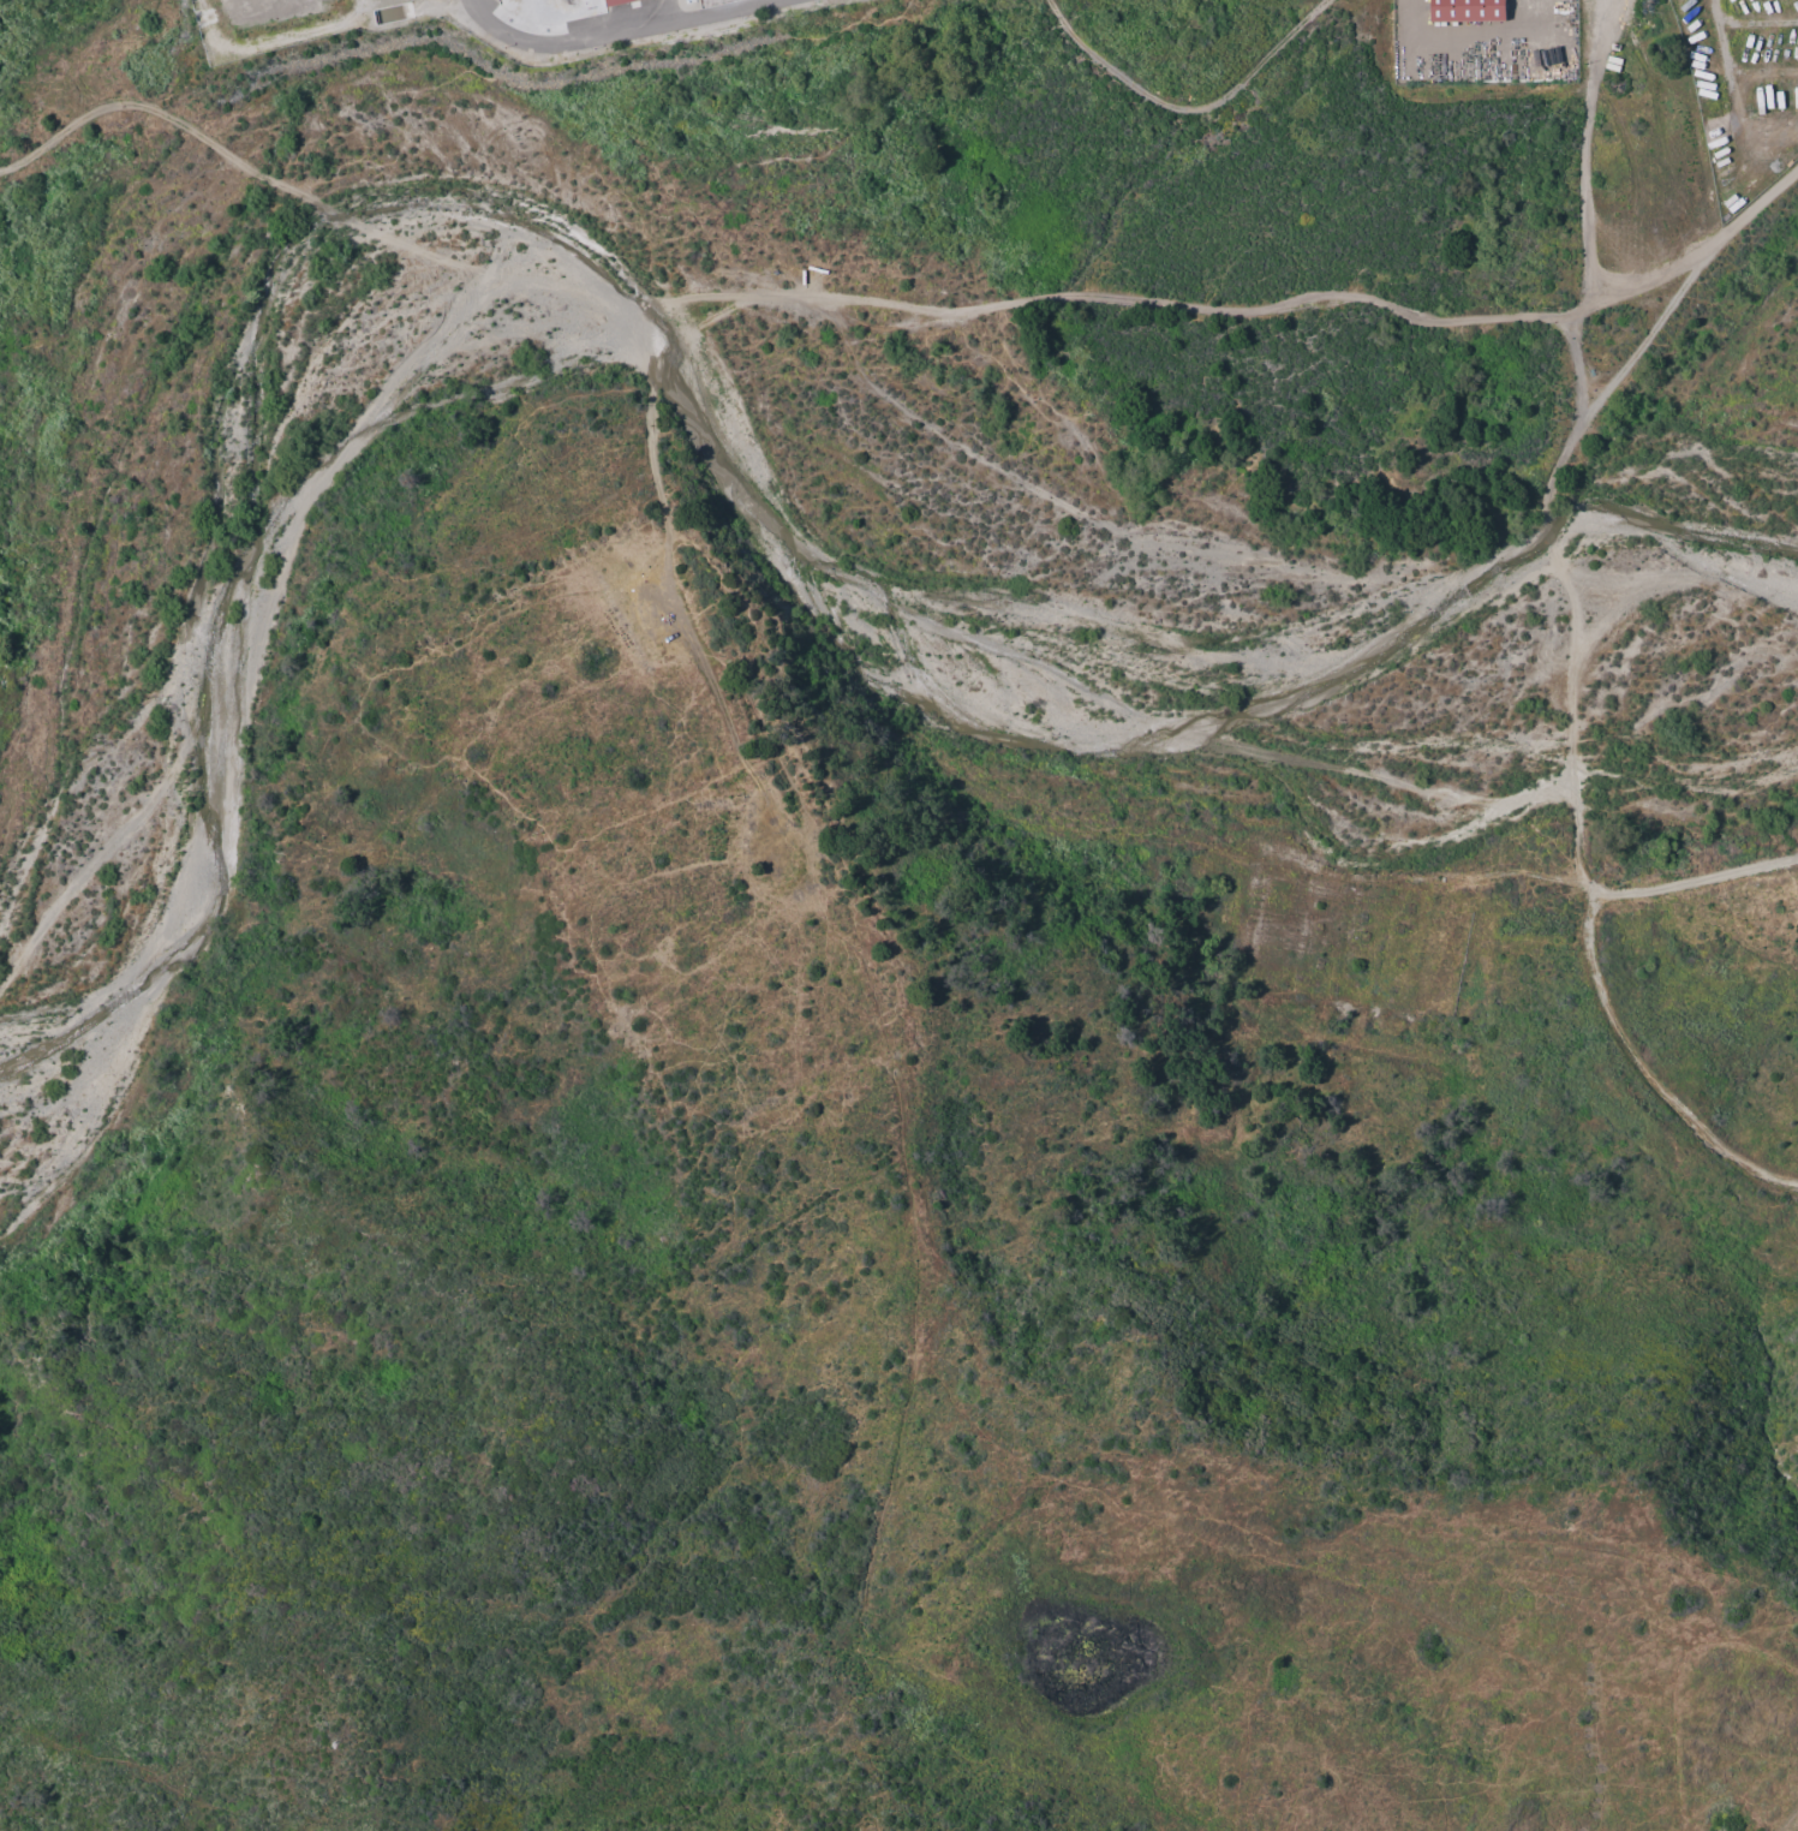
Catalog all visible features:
building: (621, 2)
building: (1462, 11)
wastewater plant: (476, 23)
road: (626, 32)
road: (312, 40)
road: (1497, 41)
road: (1730, 99)
road: (1190, 106)
road: (1582, 149)
road: (1307, 310)
road: (1557, 588)

